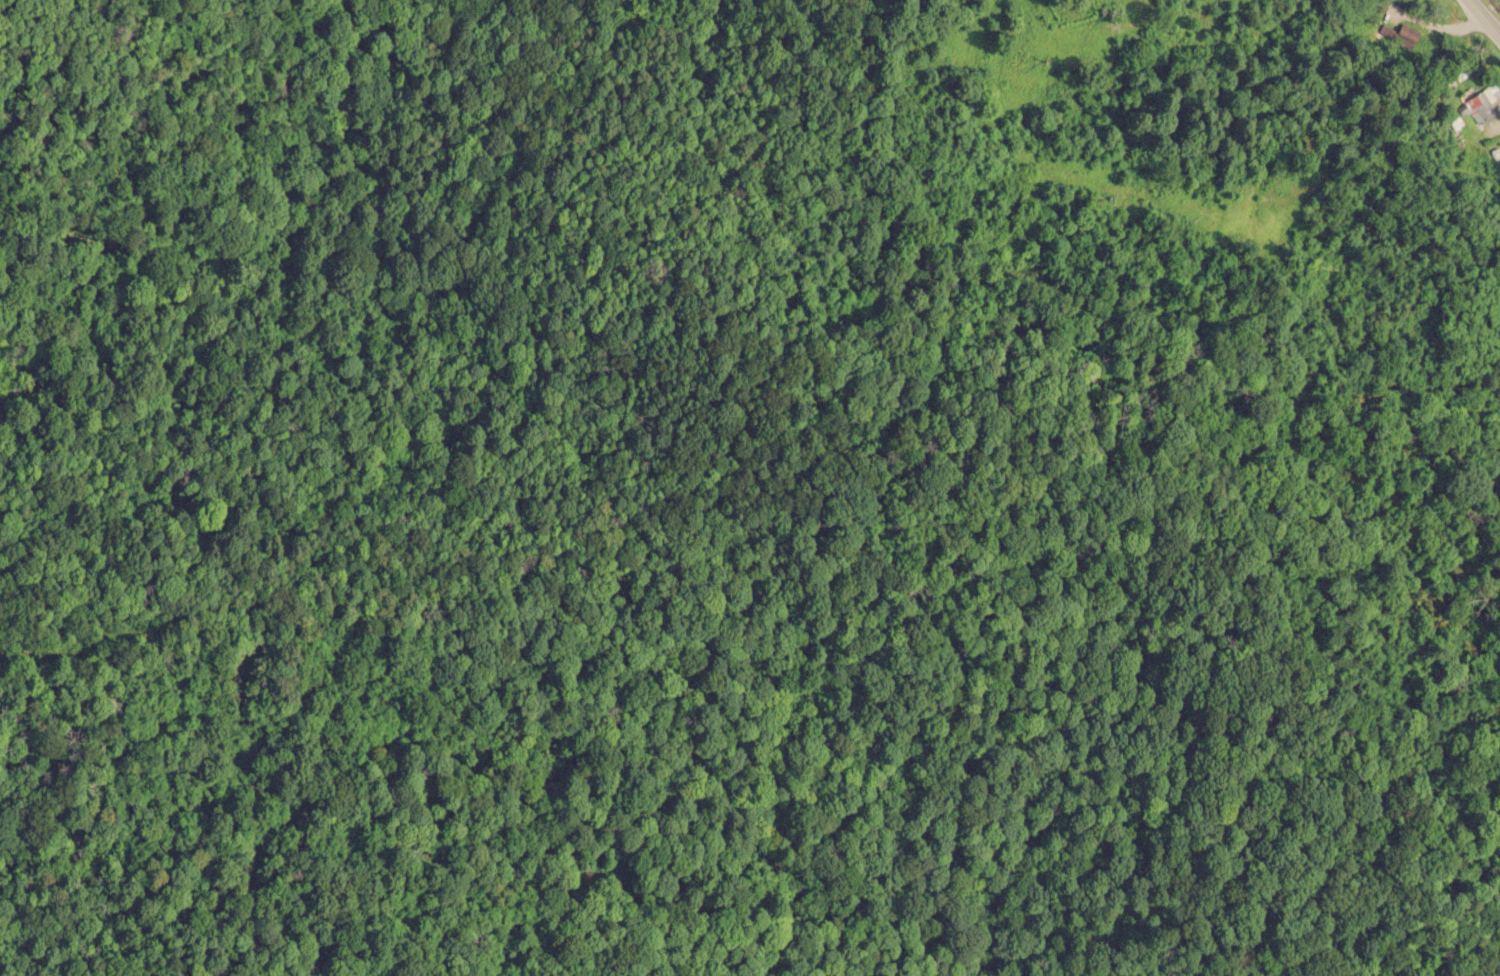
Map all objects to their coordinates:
road: (1484, 18)
building: (1396, 35)
building: (1482, 105)

